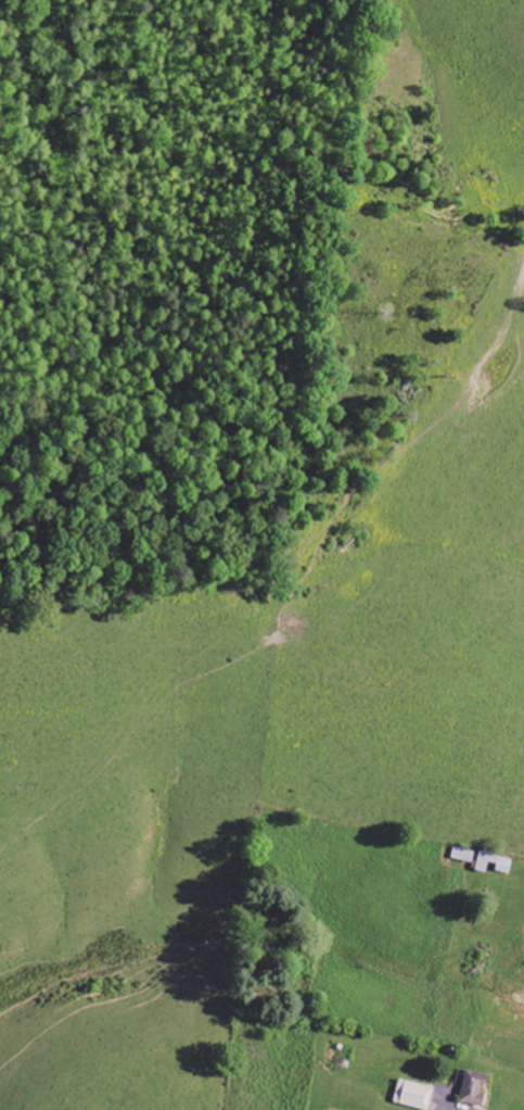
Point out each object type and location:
building: (496, 862)
building: (462, 1081)
building: (476, 1088)
building: (414, 1096)

